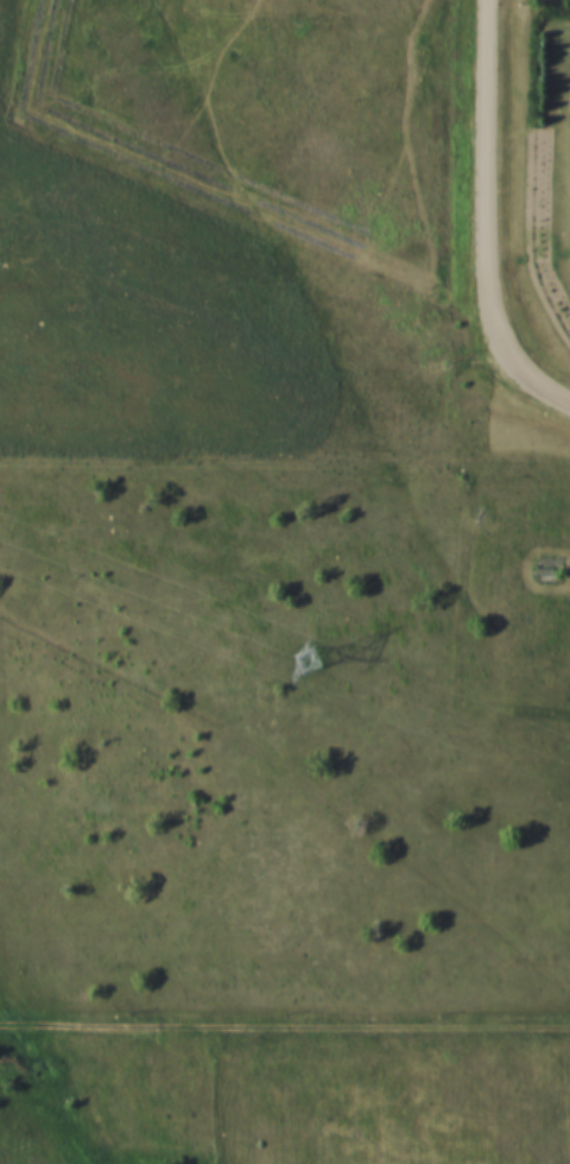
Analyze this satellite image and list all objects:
road: (494, 214)
power tower: (305, 657)
road: (285, 1019)

